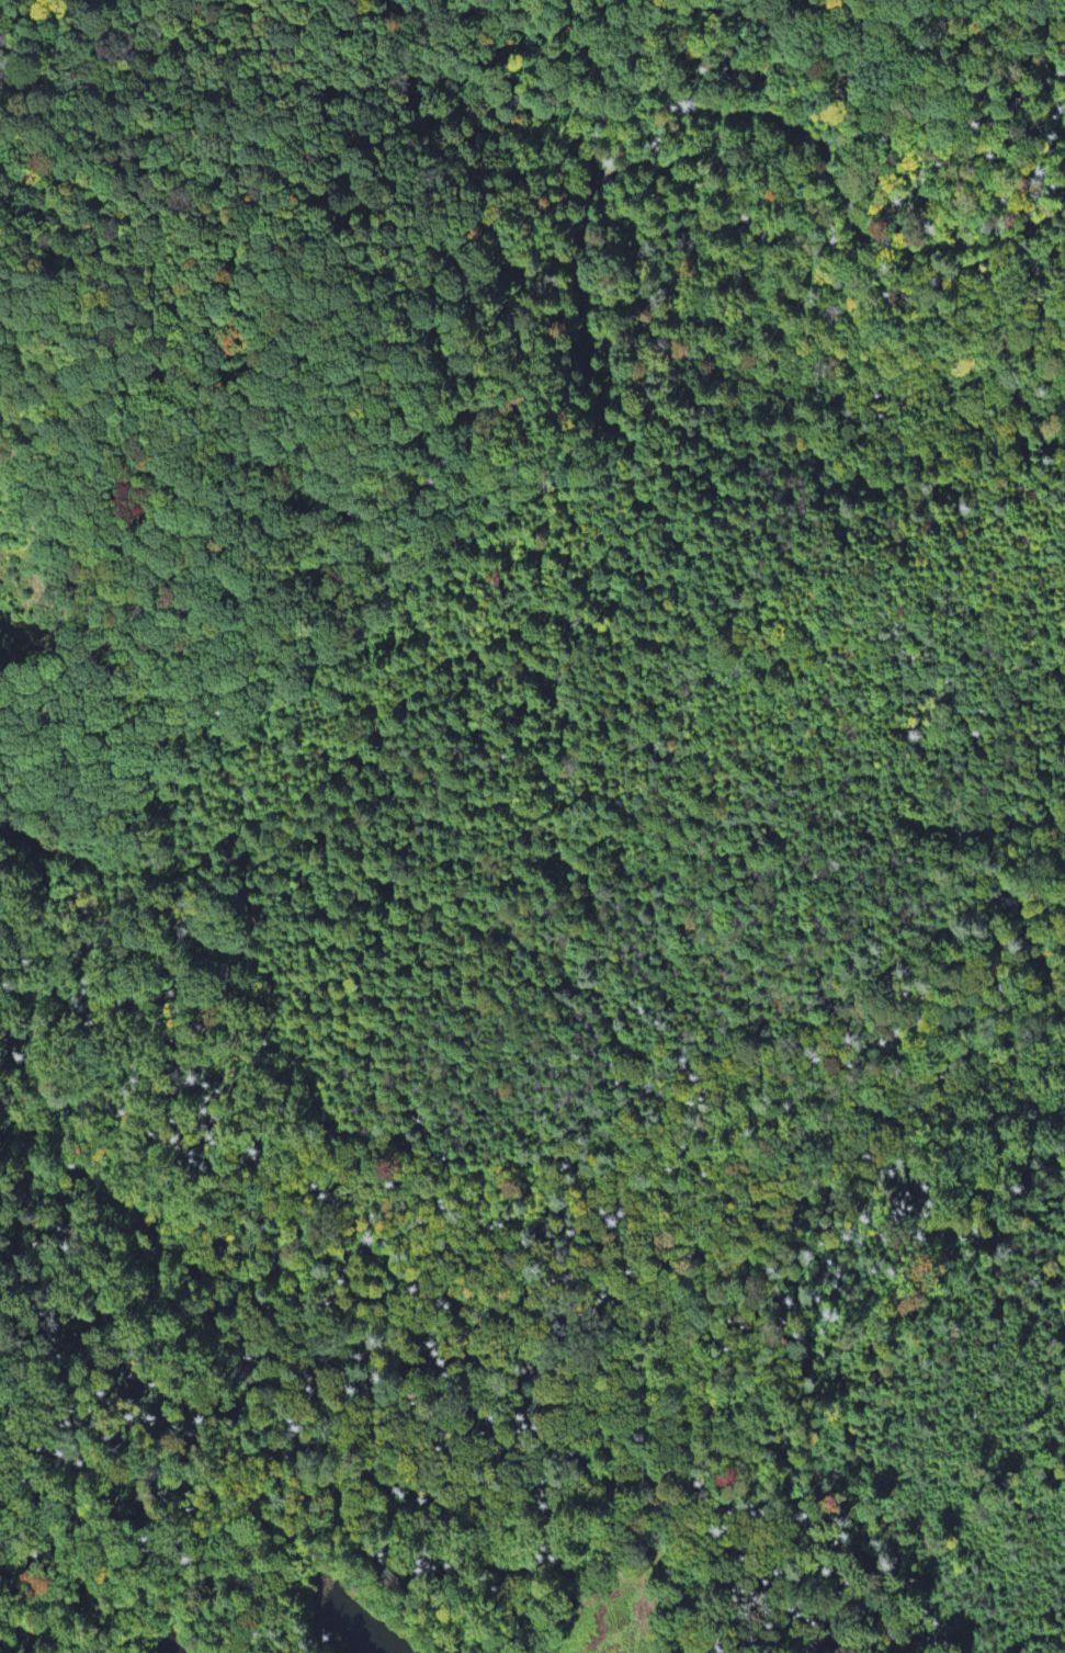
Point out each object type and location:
road: (630, 435)

